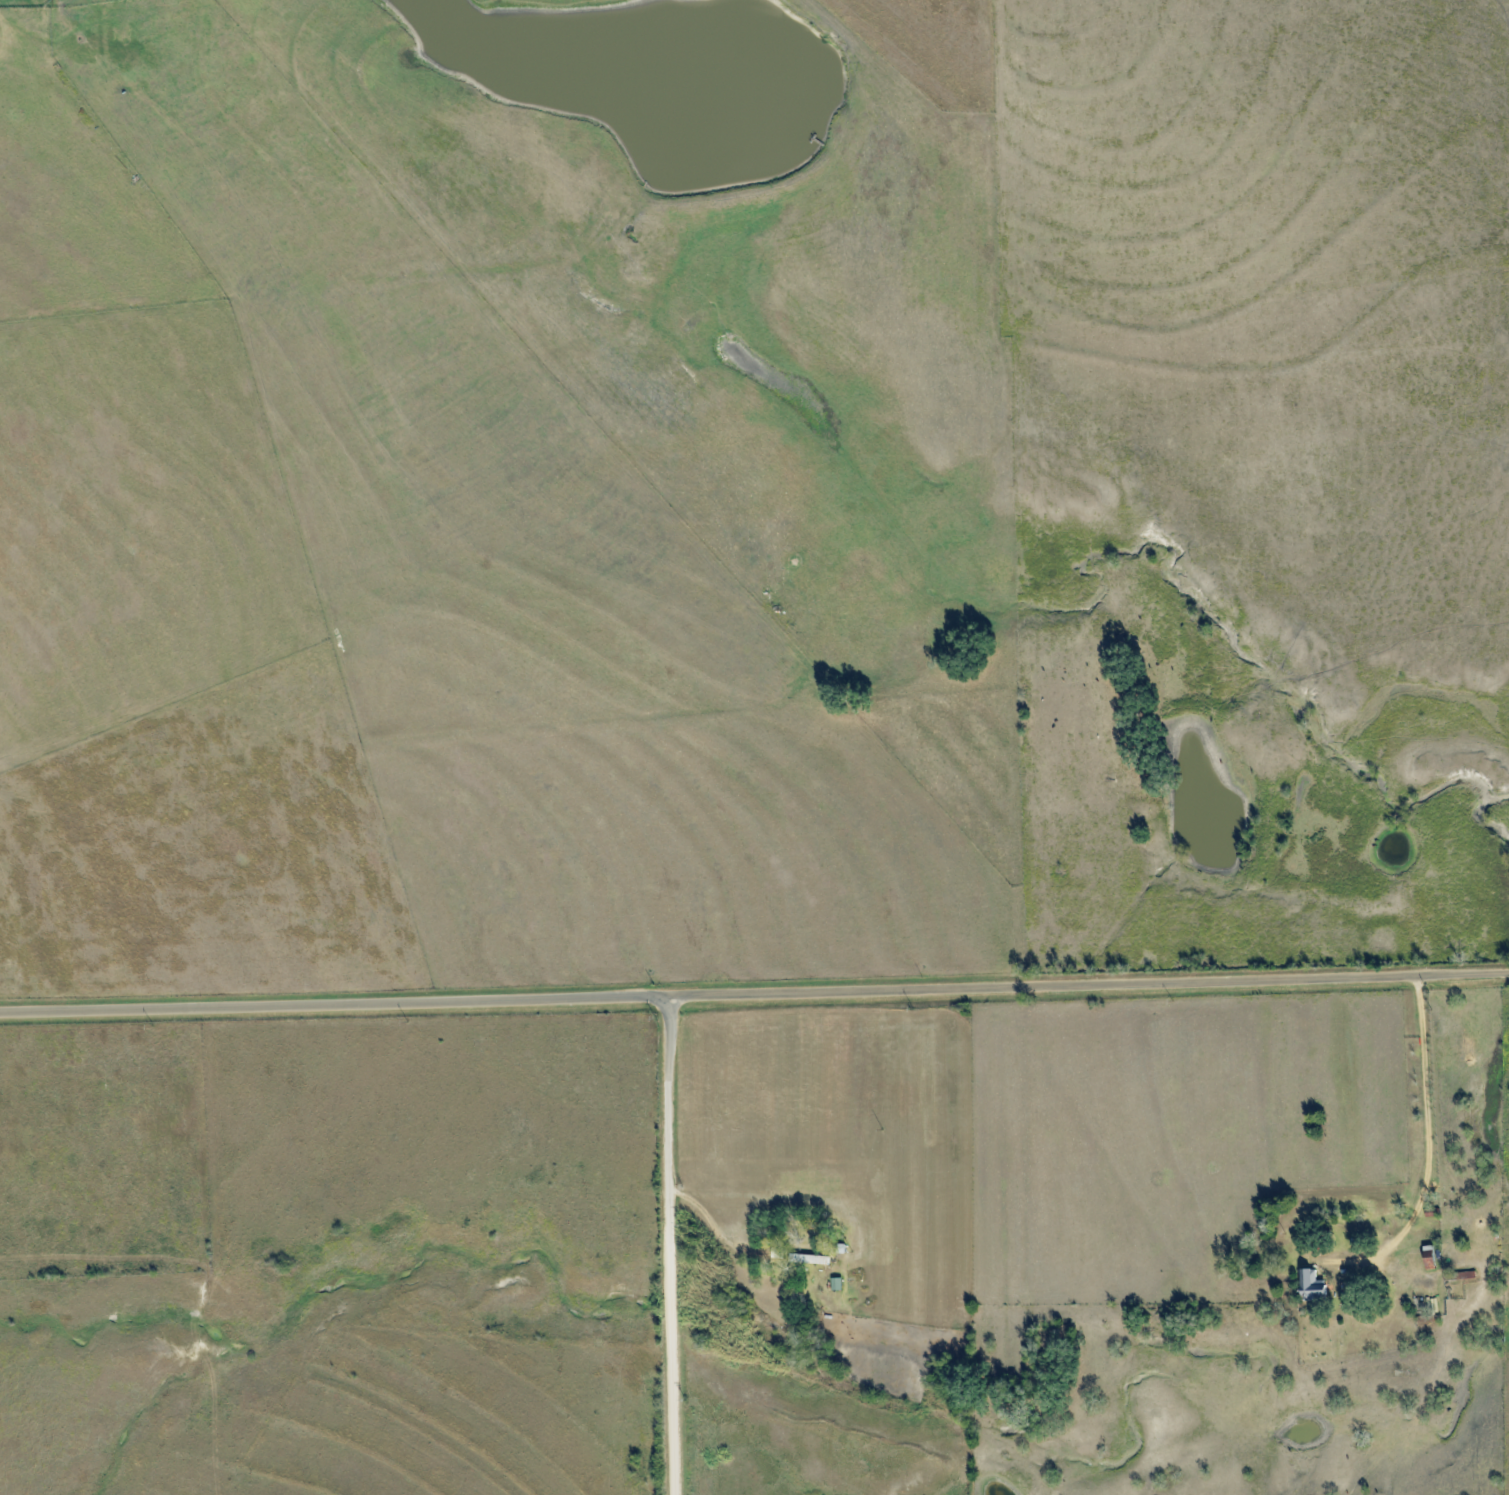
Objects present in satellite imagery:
road: (754, 988)
road: (1427, 1150)
road: (668, 1243)
building: (1428, 1257)
building: (809, 1259)
building: (1460, 1276)
building: (1311, 1285)

